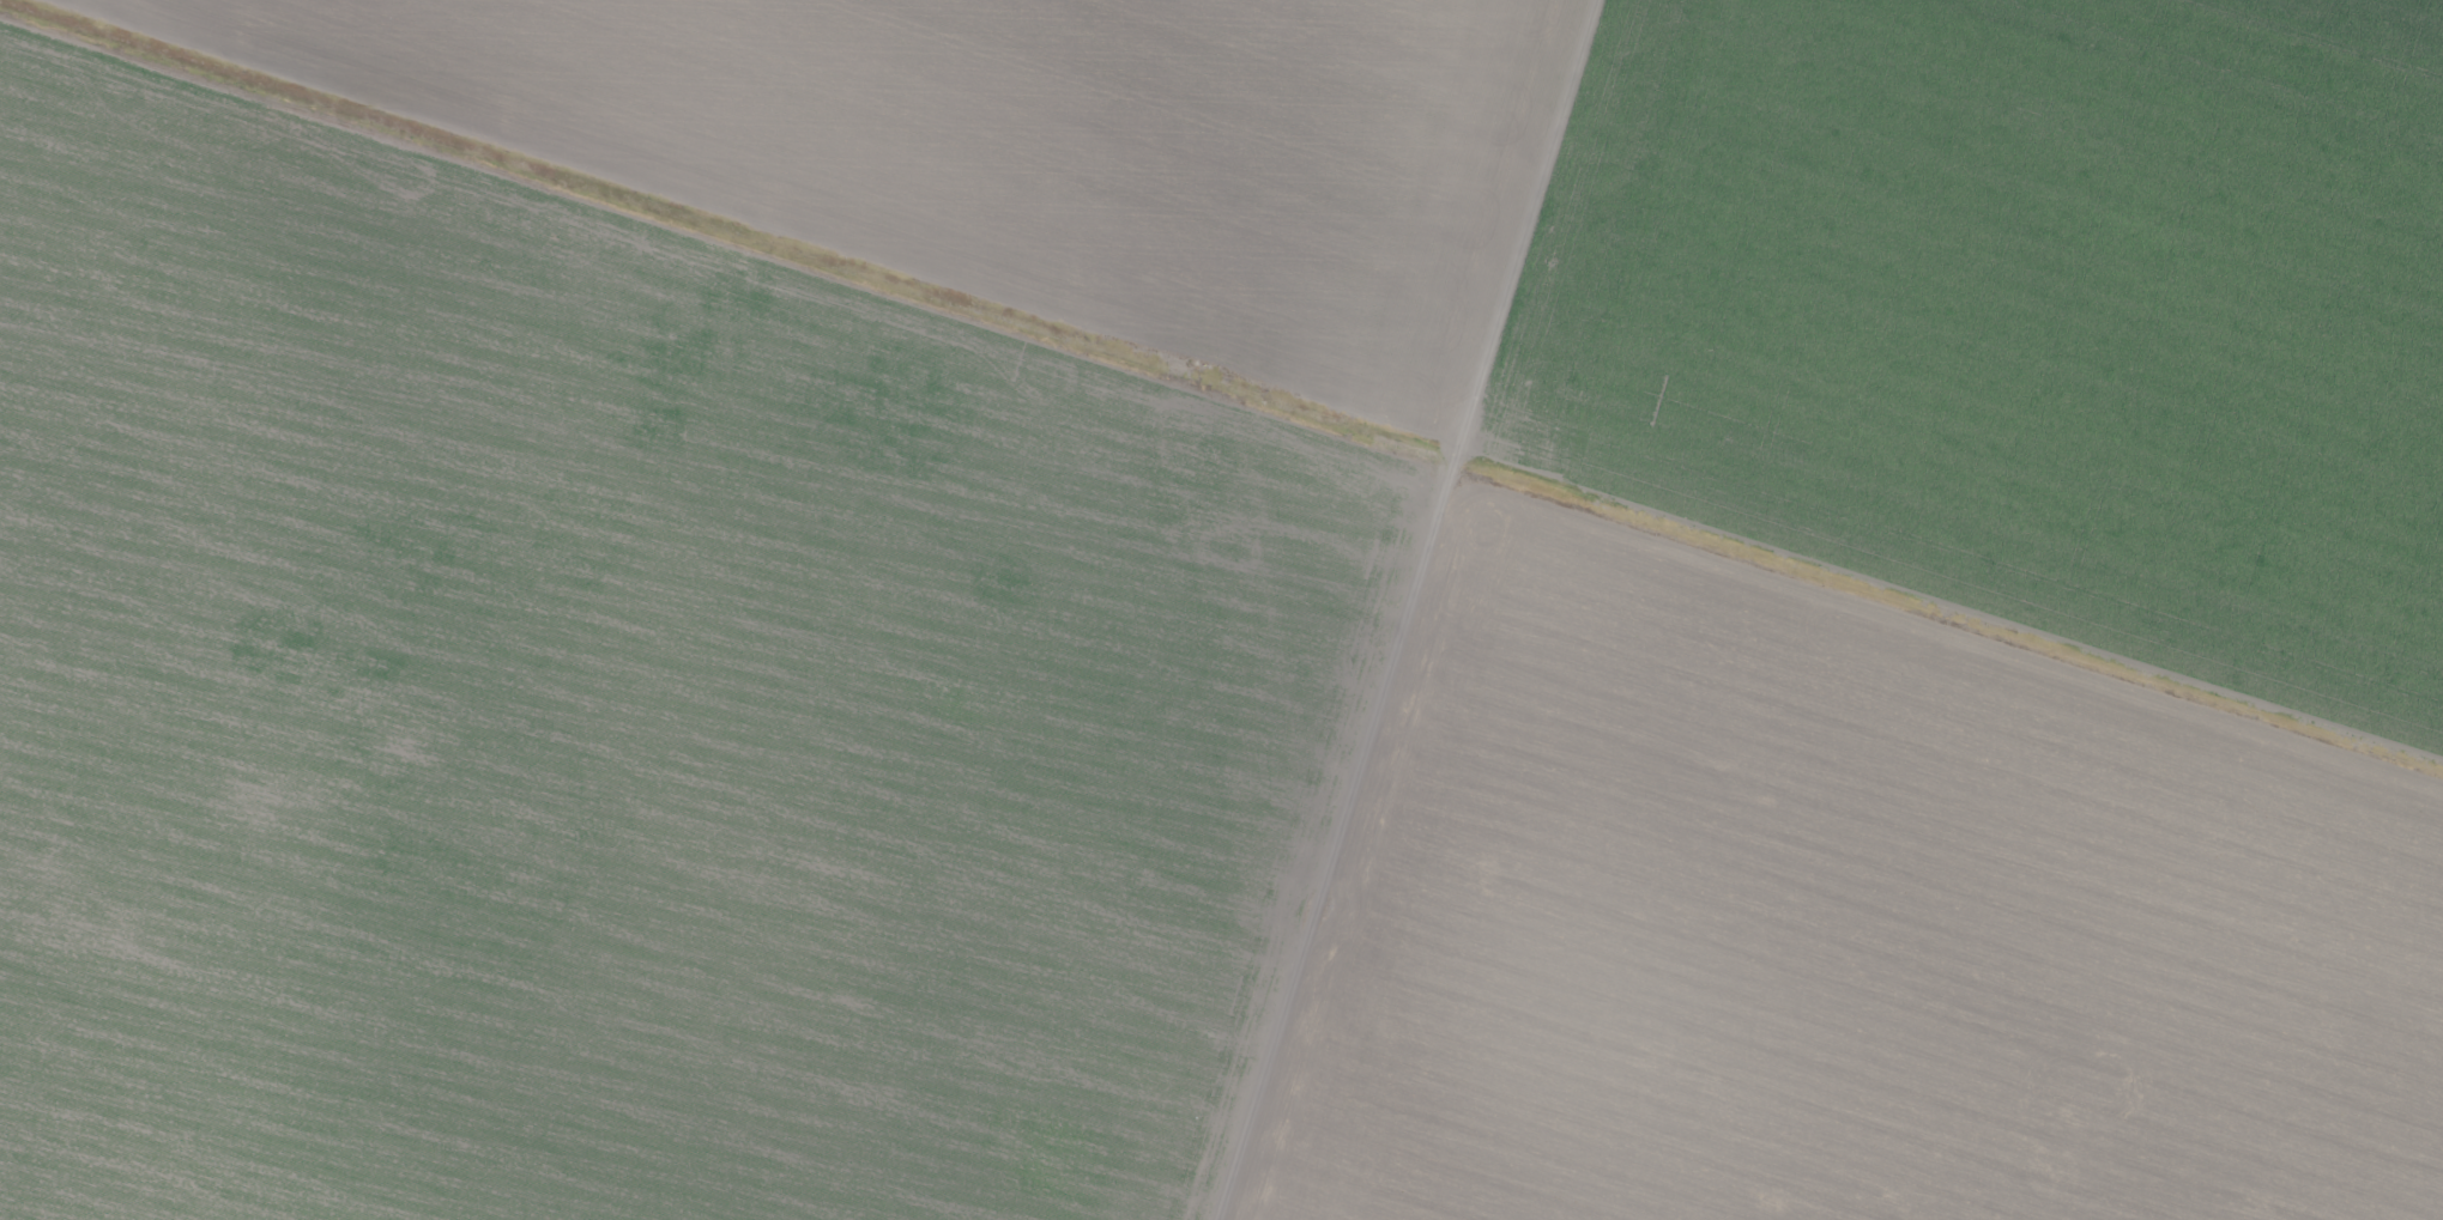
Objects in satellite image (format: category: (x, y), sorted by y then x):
road: (1219, 414)
road: (1410, 609)

